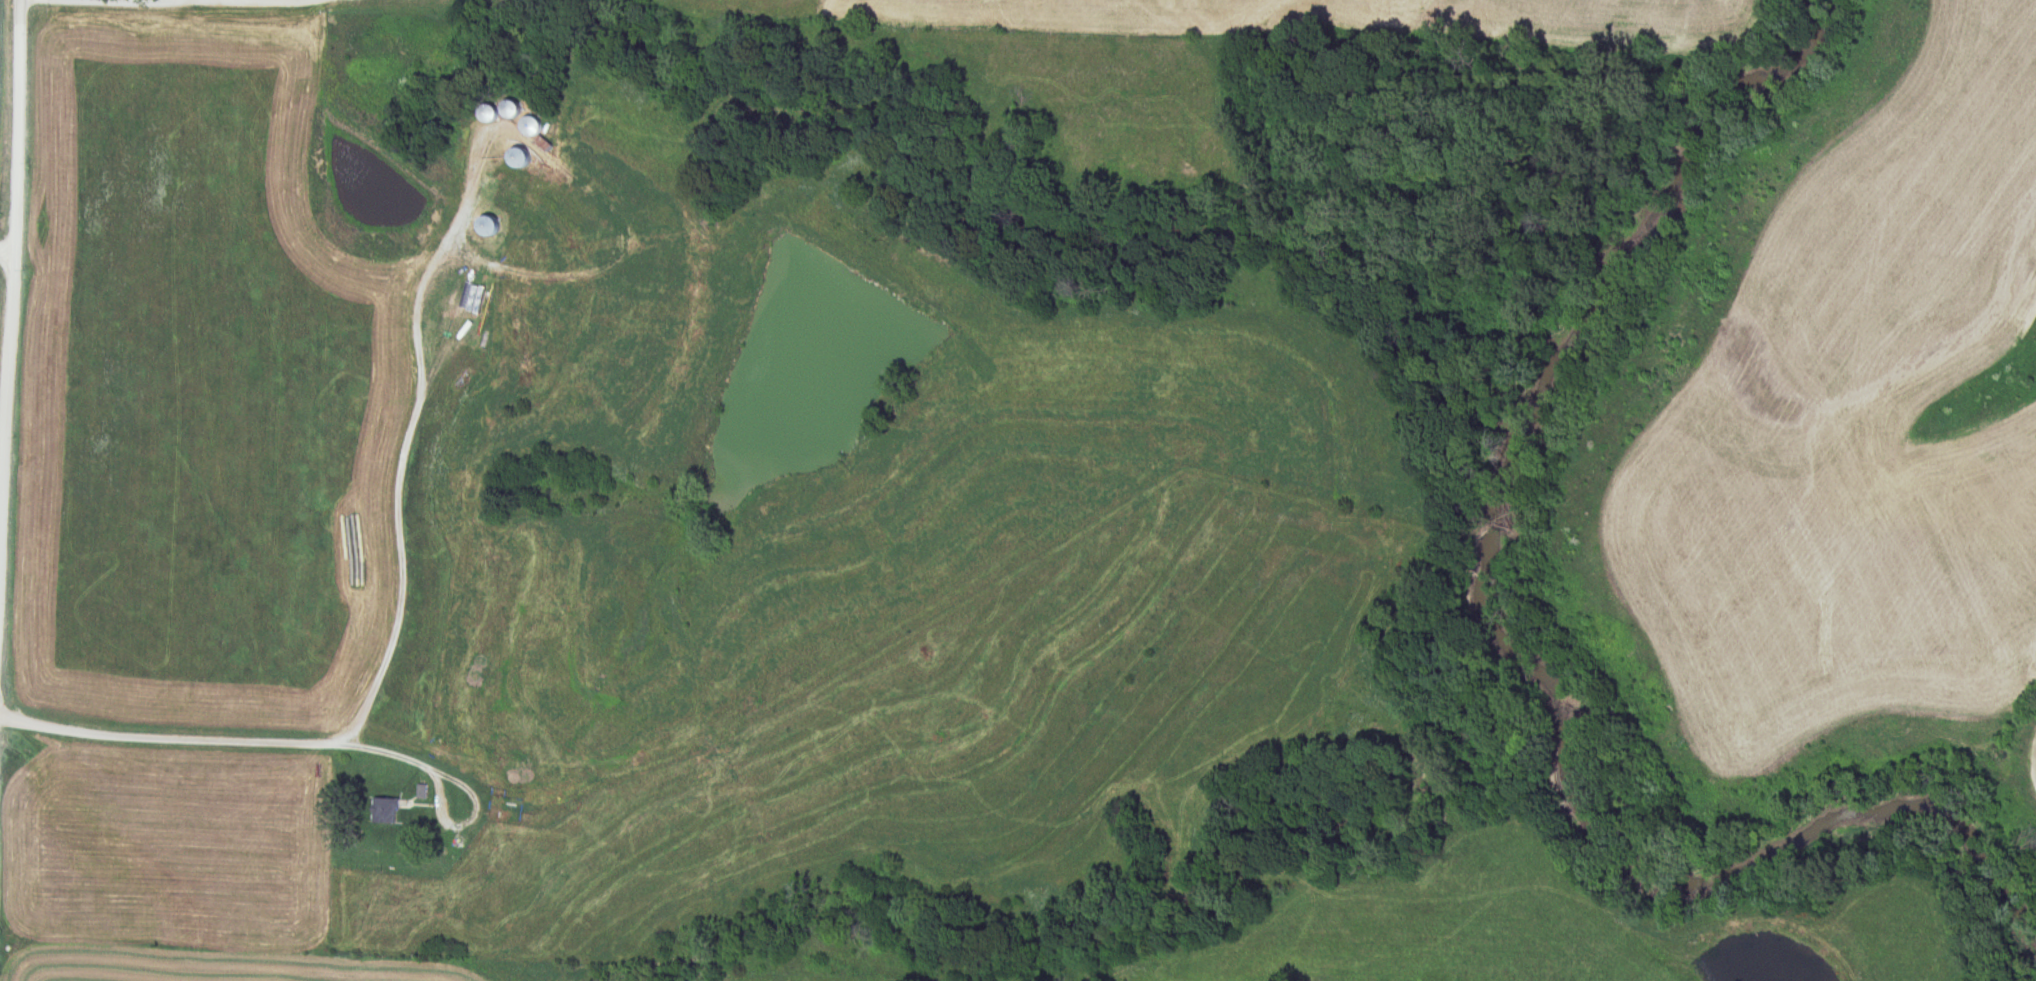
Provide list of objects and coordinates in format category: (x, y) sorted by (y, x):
building: (531, 126)
building: (518, 157)
building: (486, 227)
road: (9, 259)
road: (18, 262)
river: (1486, 399)
road: (396, 493)
road: (220, 745)
building: (383, 809)
building: (515, 813)
building: (451, 858)

